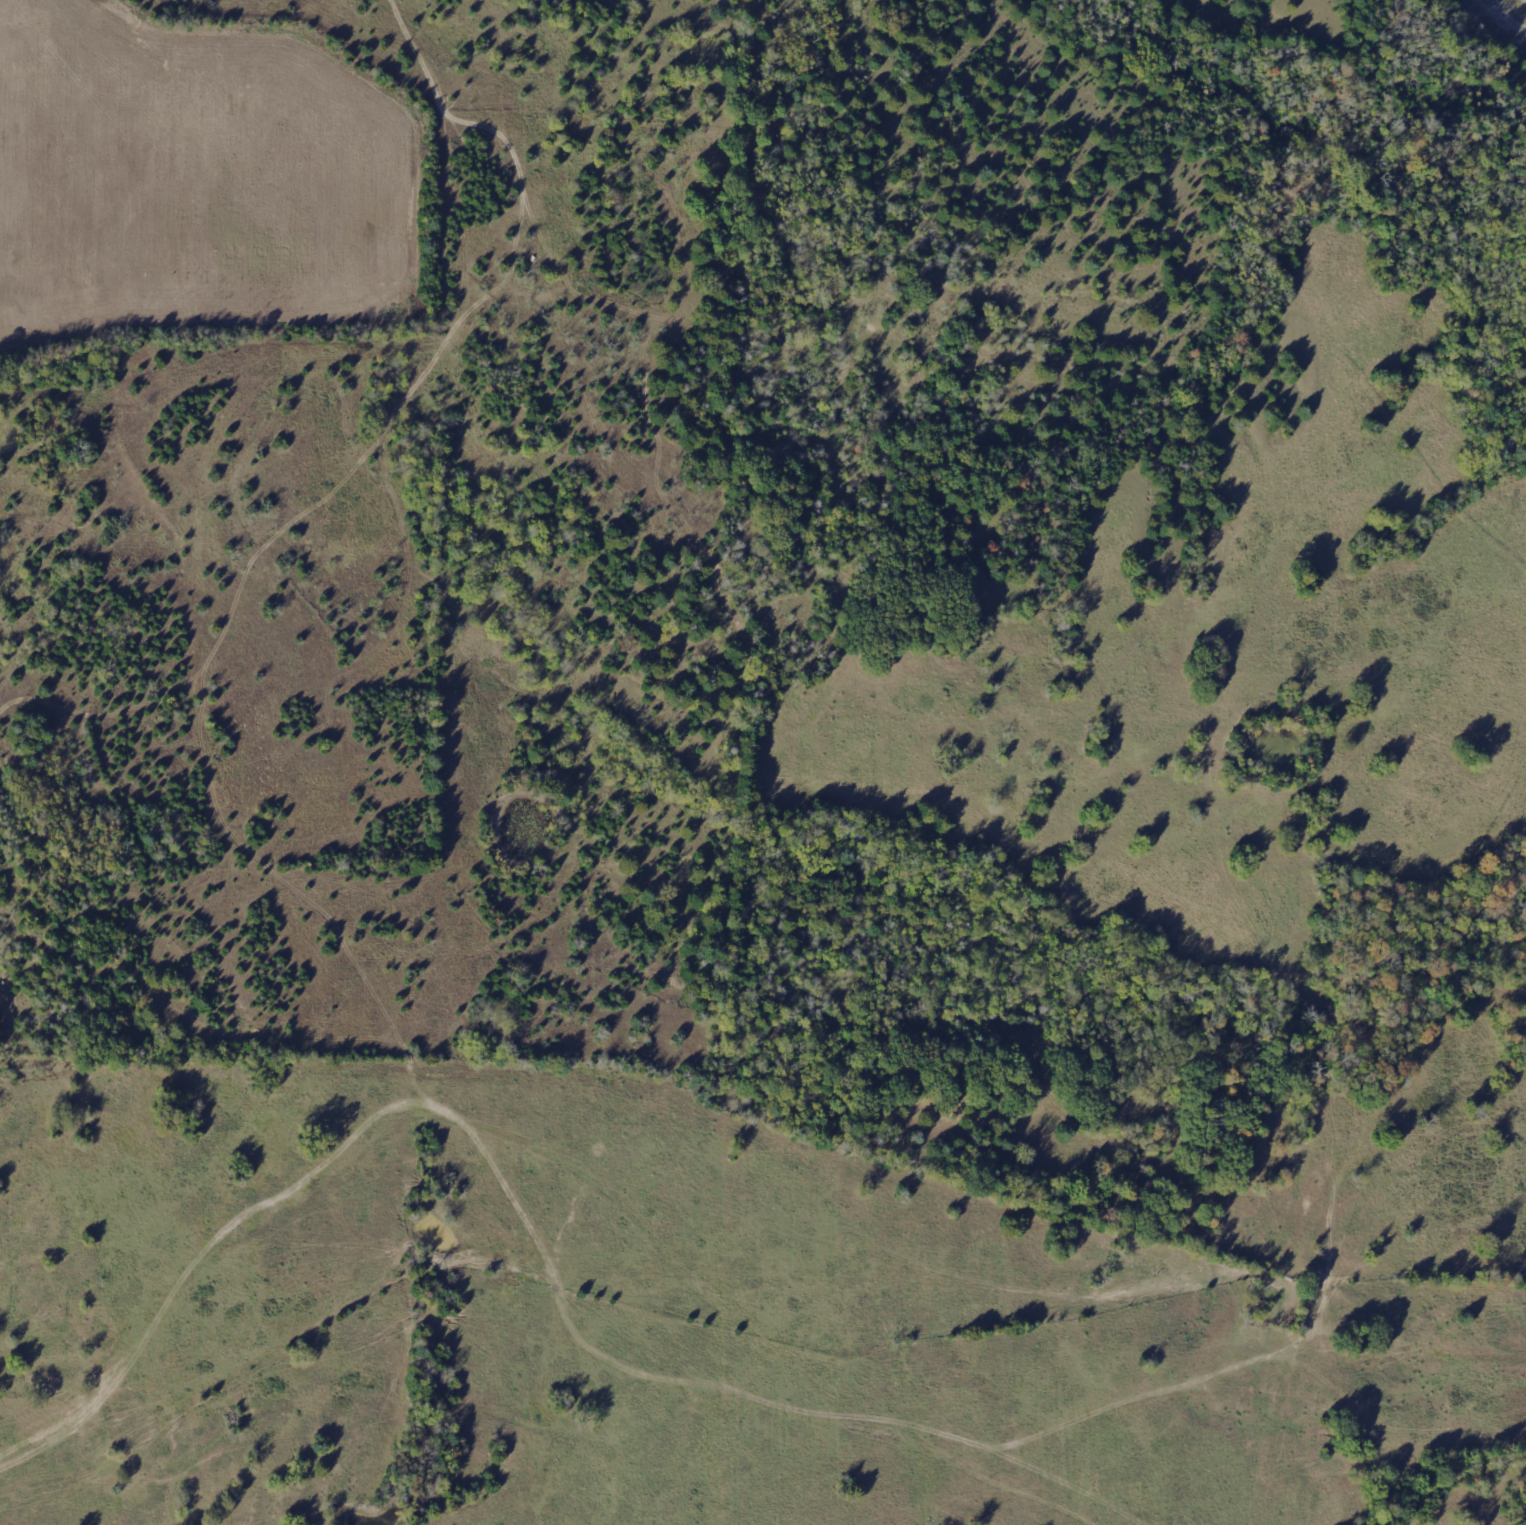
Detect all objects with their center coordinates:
road: (518, 1415)

